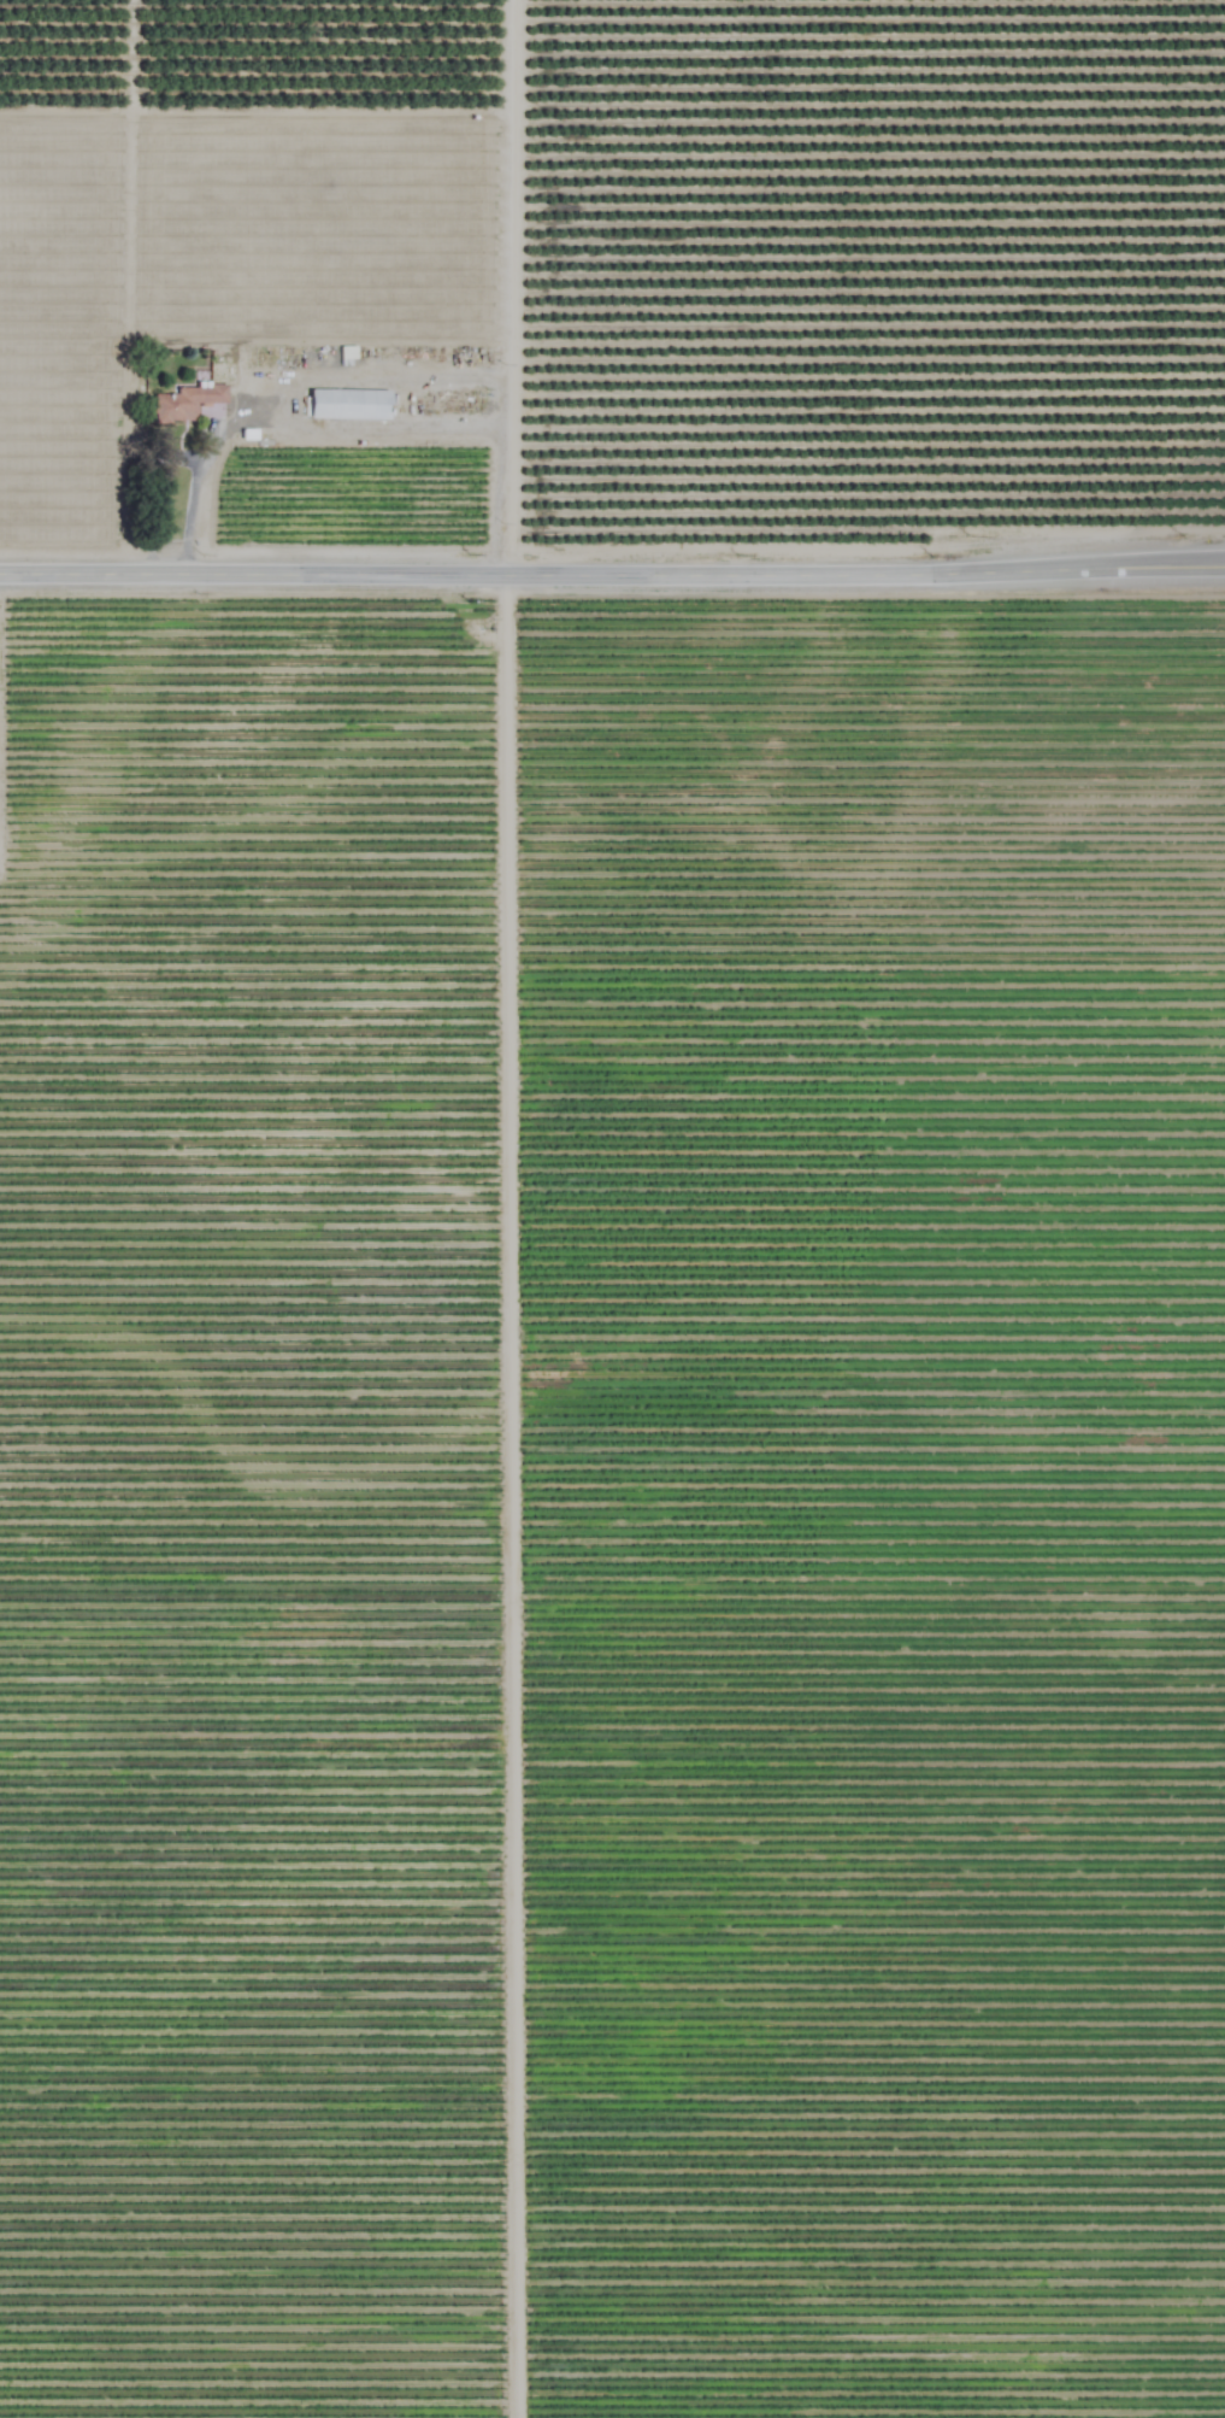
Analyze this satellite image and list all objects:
road: (510, 287)
road: (282, 386)
building: (181, 401)
building: (341, 404)
road: (376, 428)
road: (612, 571)
road: (503, 1495)

